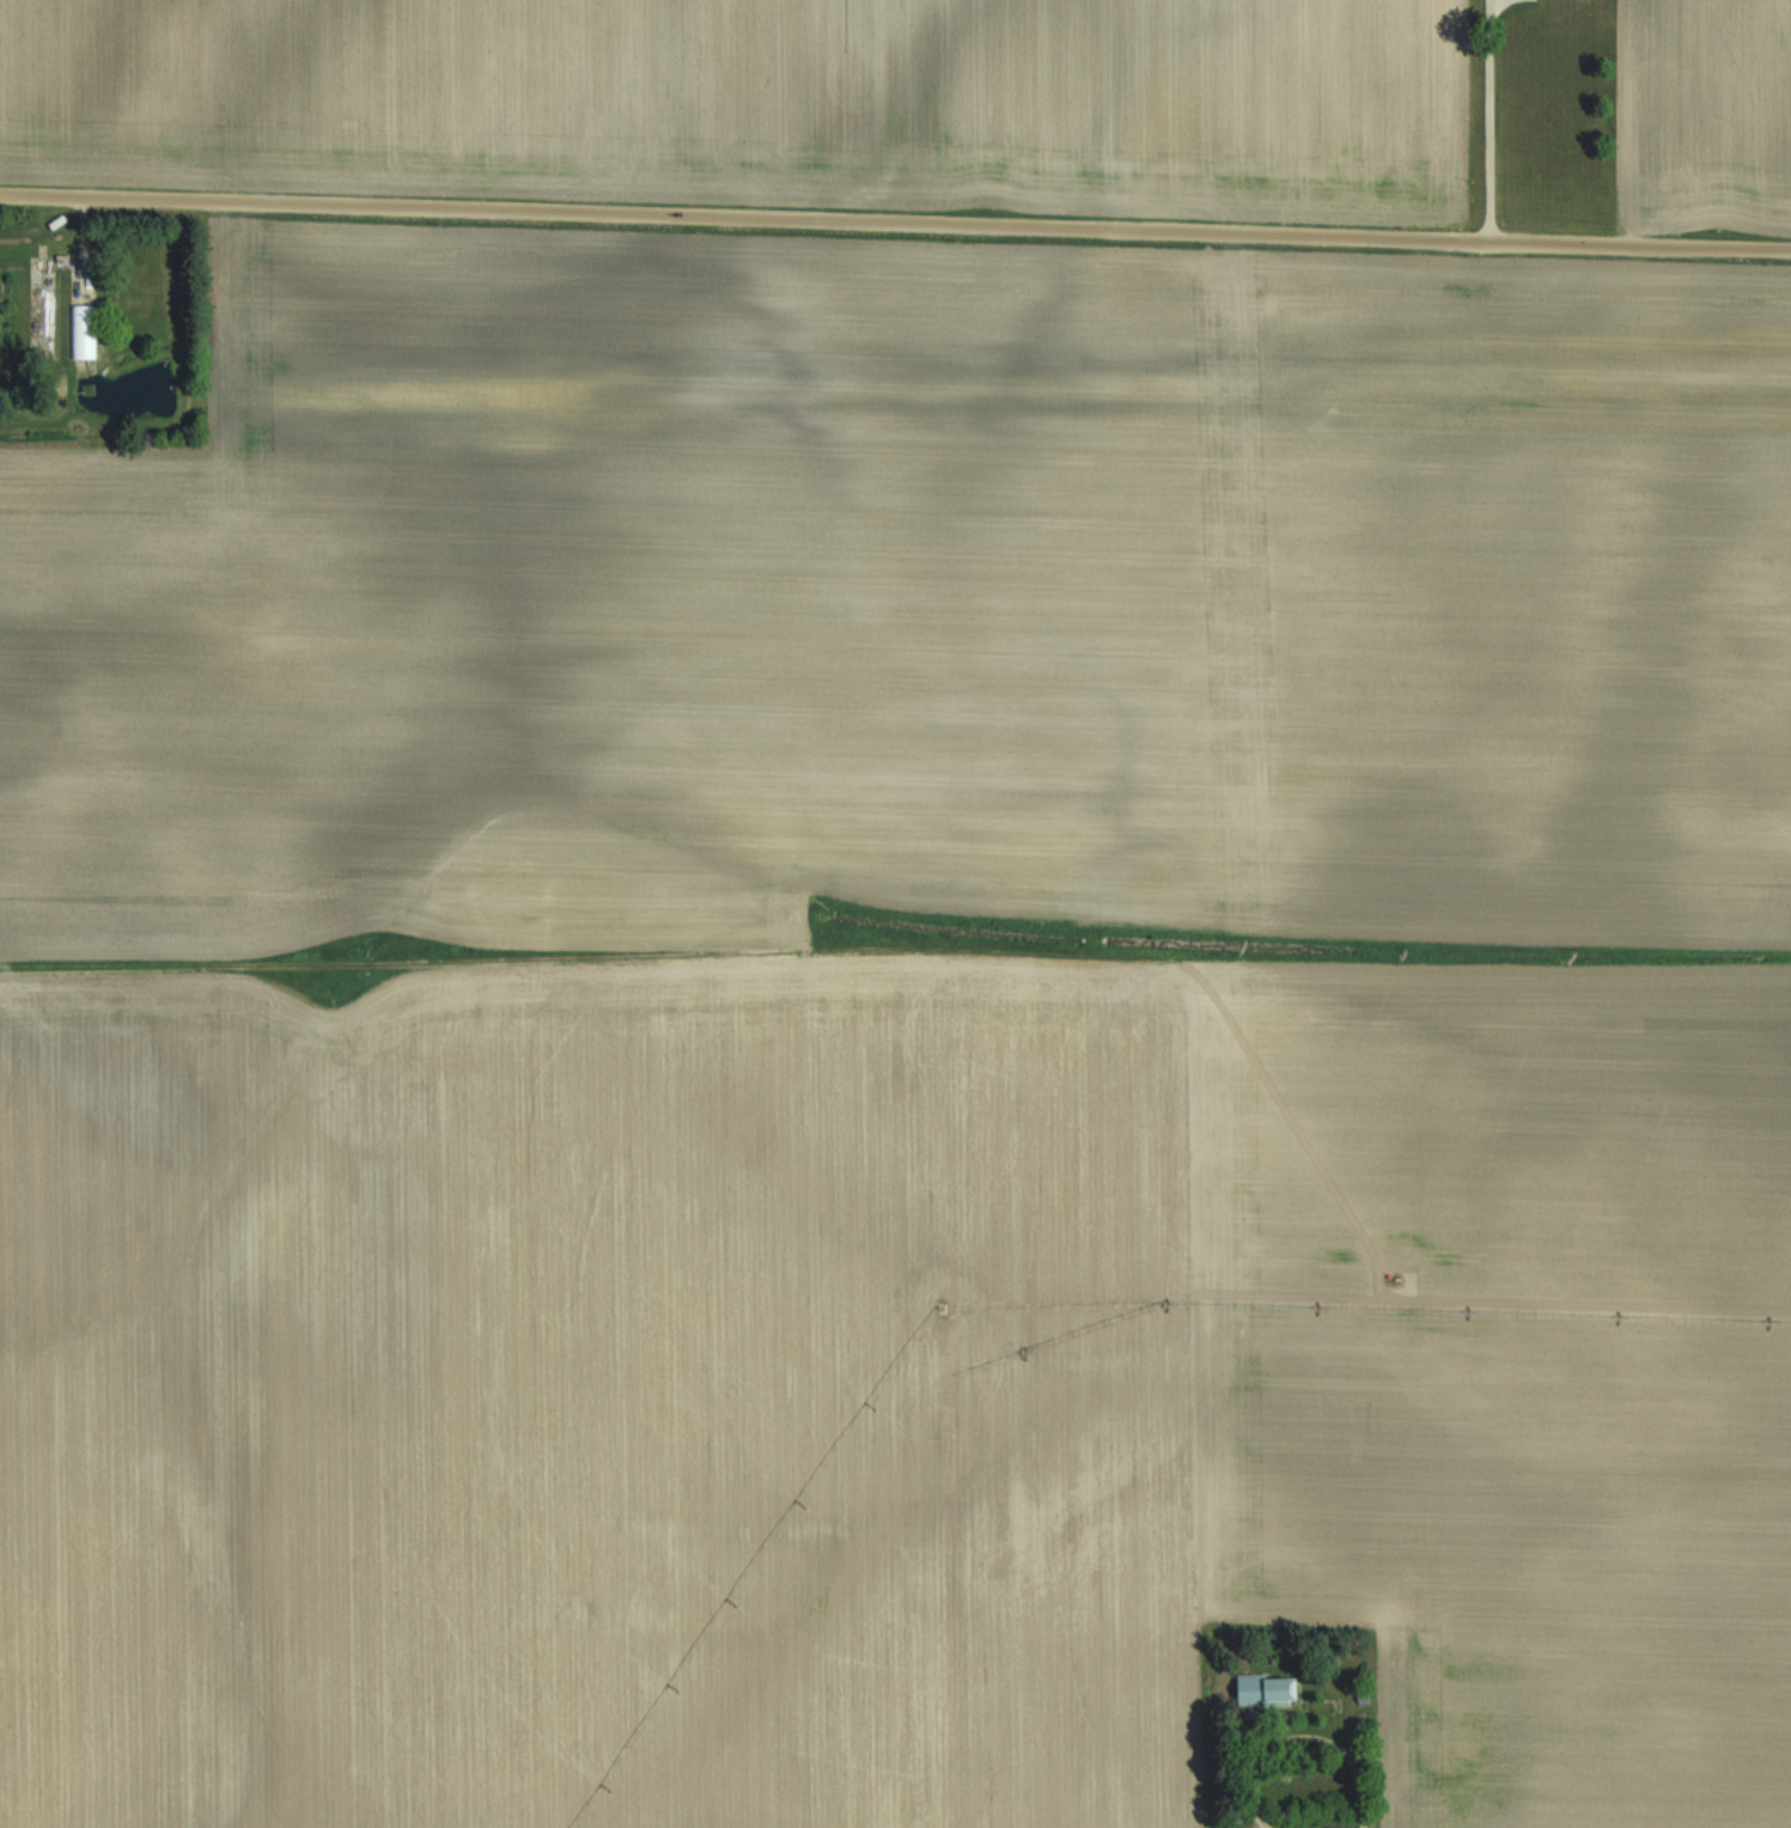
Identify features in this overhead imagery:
crop: (754, 97)
crop: (1705, 108)
road: (1488, 126)
road: (895, 223)
building: (1271, 1690)
road: (1292, 1742)

